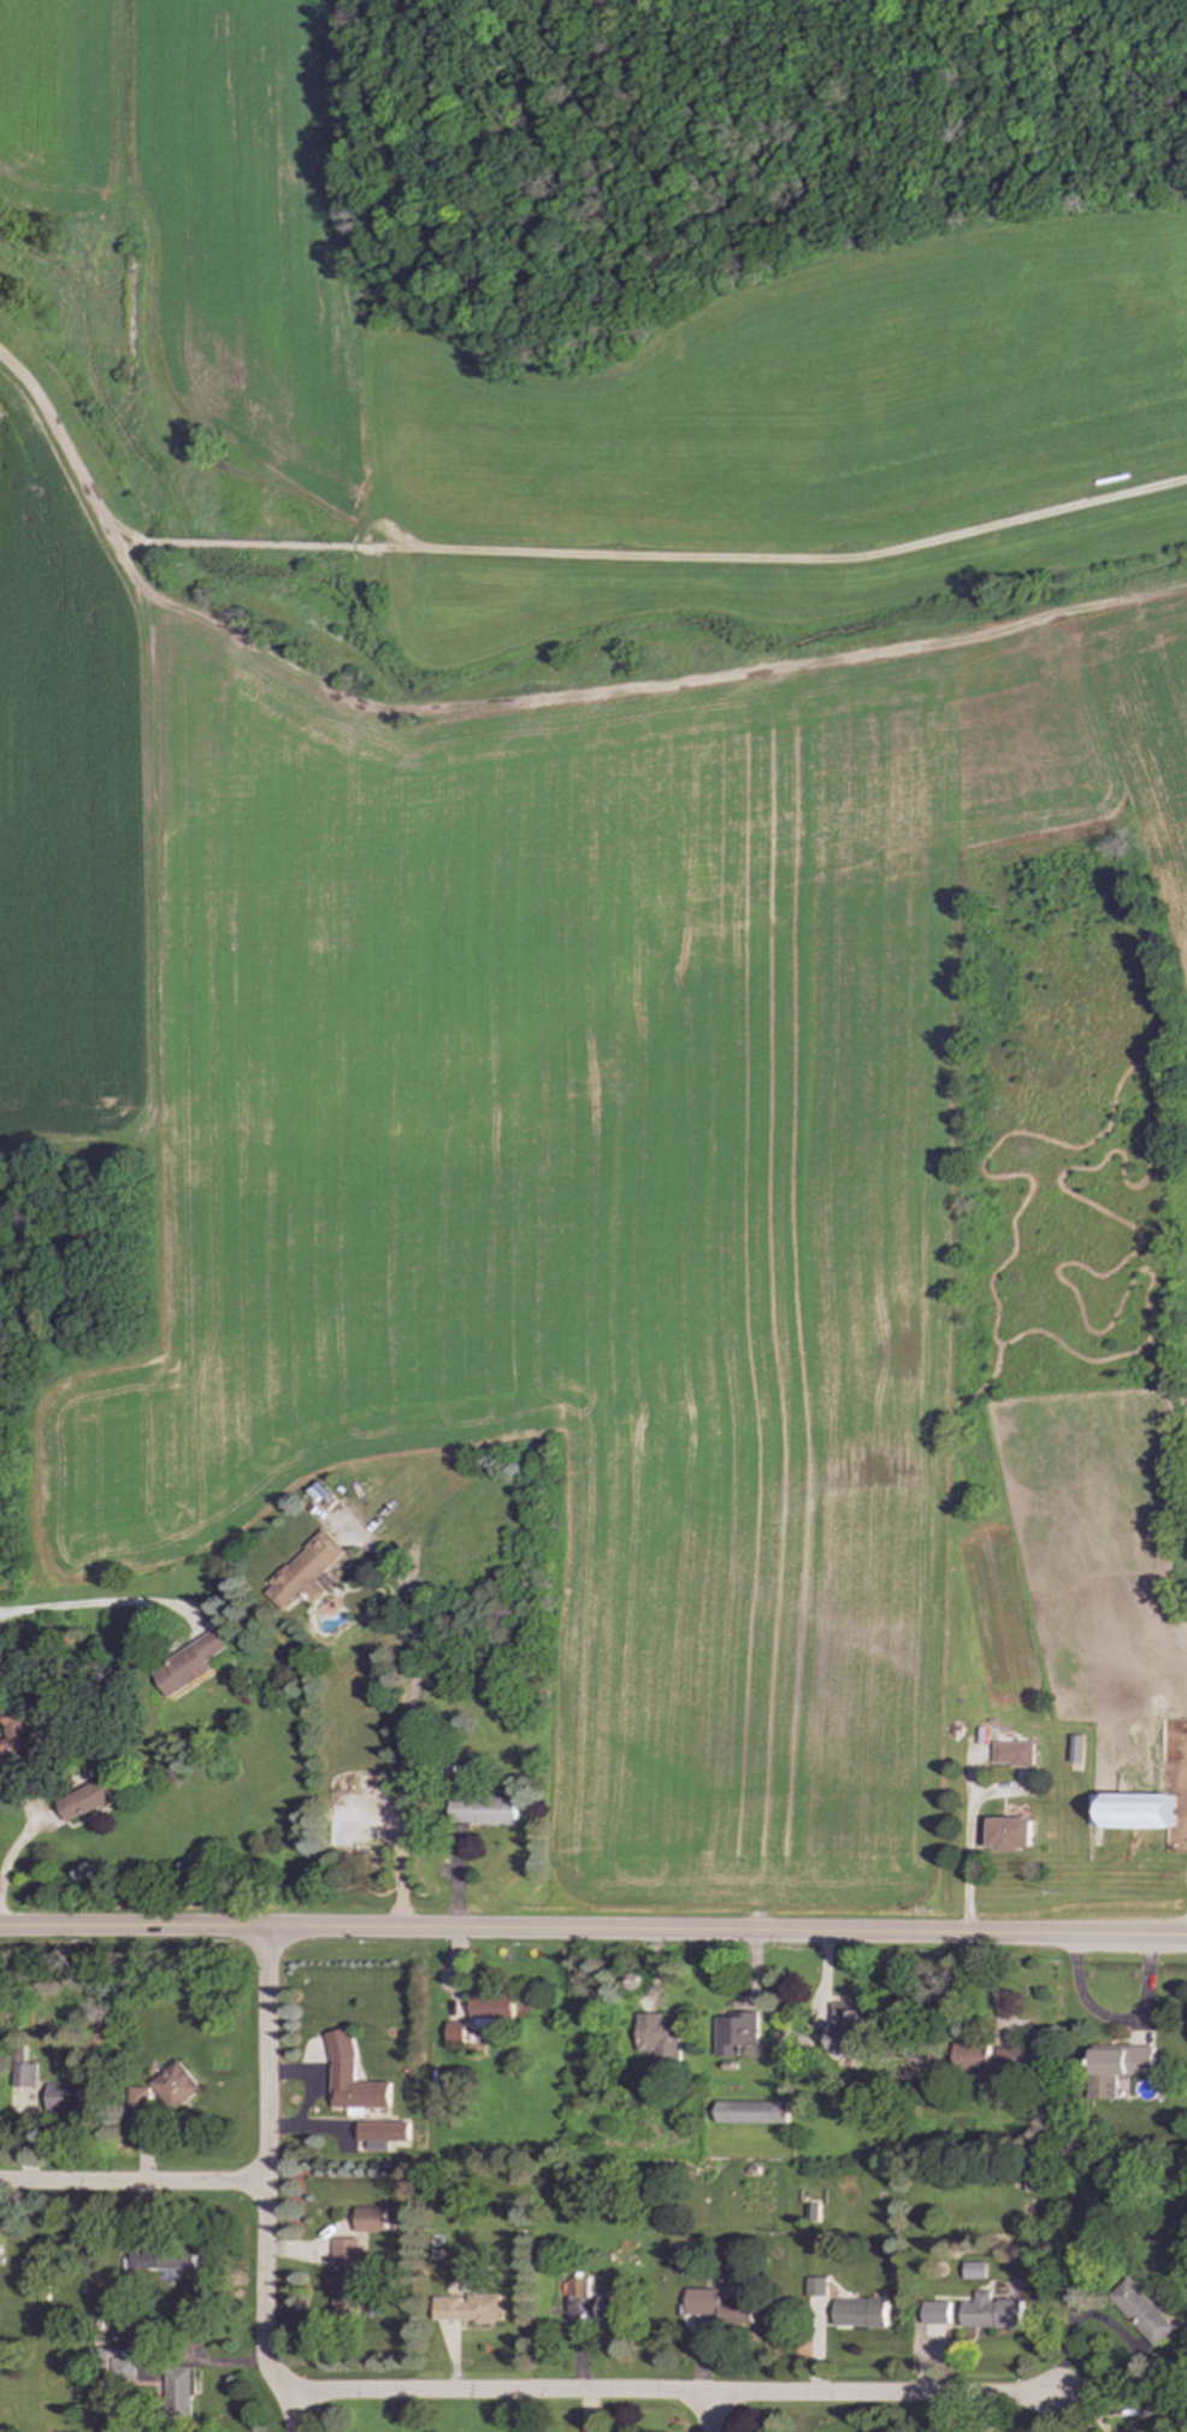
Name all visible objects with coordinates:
road: (547, 552)
crop: (589, 909)
building: (306, 1572)
road: (81, 1606)
building: (190, 1665)
building: (16, 1731)
road: (402, 1735)
building: (1075, 1748)
building: (1012, 1753)
building: (90, 1798)
building: (480, 1810)
building: (1132, 1810)
building: (1010, 1833)
road: (18, 1842)
road: (972, 1849)
road: (132, 1928)
road: (726, 1931)
building: (490, 2006)
road: (1116, 2021)
building: (845, 2028)
building: (454, 2032)
building: (733, 2032)
building: (659, 2037)
building: (990, 2057)
building: (1116, 2067)
building: (20, 2075)
building: (350, 2077)
road: (315, 2079)
building: (172, 2085)
building: (61, 2097)
building: (135, 2098)
building: (750, 2112)
road: (313, 2126)
building: (380, 2134)
road: (131, 2183)
road: (264, 2183)
building: (395, 2216)
building: (368, 2219)
building: (681, 2257)
building: (161, 2260)
building: (973, 2271)
building: (343, 2275)
building: (575, 2286)
building: (814, 2286)
building: (716, 2304)
building: (466, 2308)
building: (609, 2309)
building: (990, 2312)
building: (1140, 2312)
building: (858, 2313)
building: (934, 2313)
road: (1116, 2333)
building: (119, 2368)
building: (176, 2393)
road: (672, 2393)
building: (1148, 2410)
road: (708, 2413)

